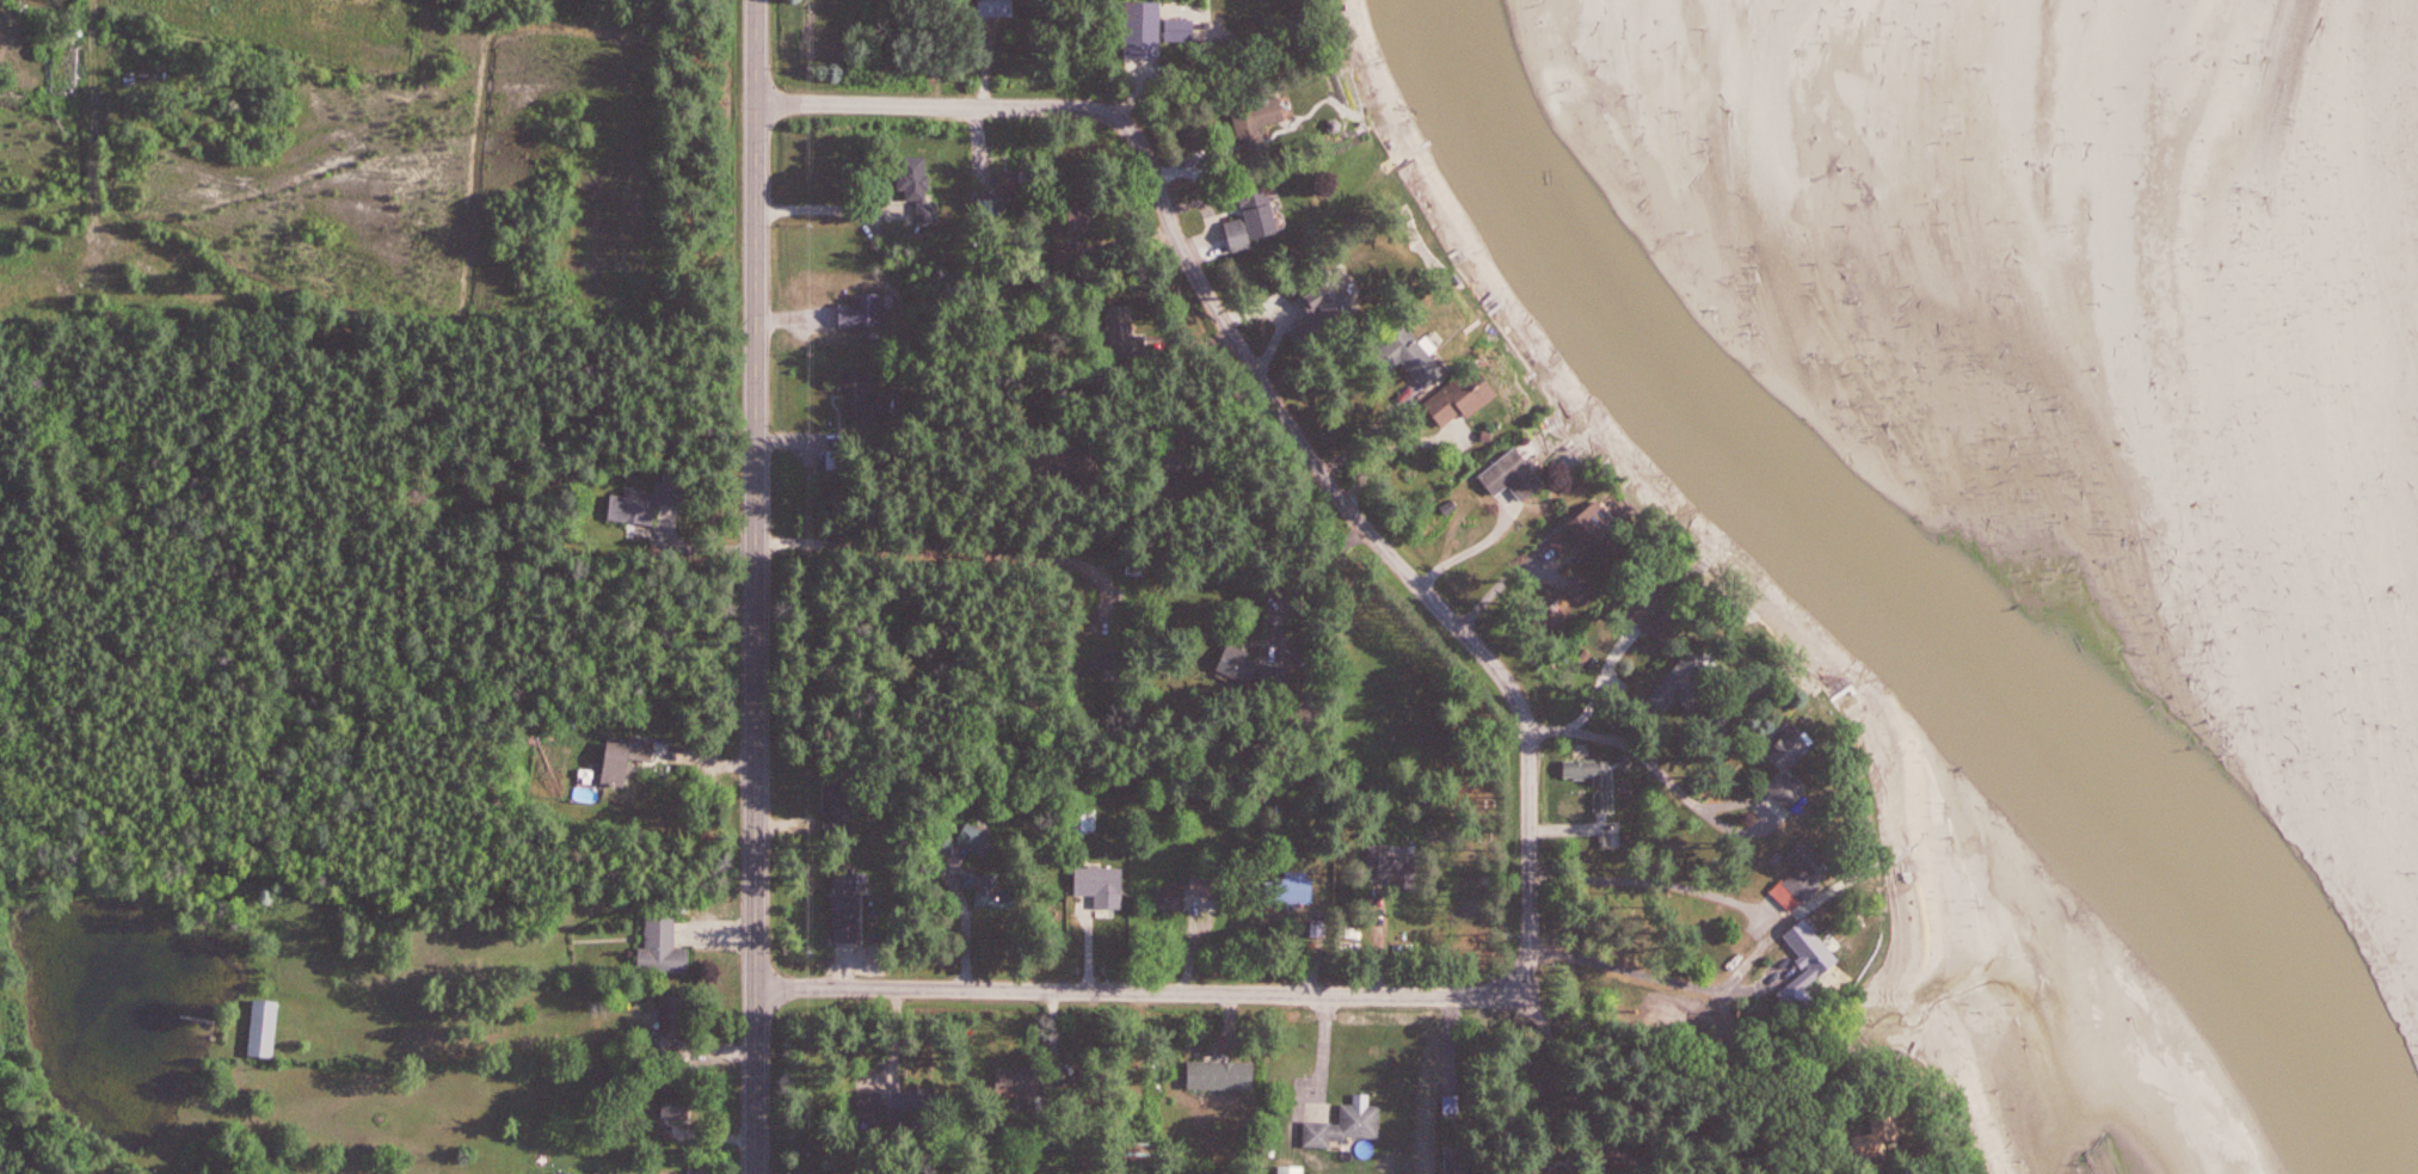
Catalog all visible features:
building: (999, 8)
building: (1265, 117)
road: (91, 124)
building: (918, 186)
building: (1004, 193)
building: (1090, 217)
building: (1256, 219)
building: (866, 309)
building: (1323, 314)
building: (1125, 332)
building: (1417, 357)
building: (859, 392)
road: (1269, 395)
building: (1468, 398)
building: (835, 460)
building: (1516, 475)
building: (645, 503)
building: (1593, 533)
road: (945, 554)
road: (755, 586)
river: (1887, 595)
building: (1669, 619)
building: (1239, 668)
building: (1276, 676)
building: (1691, 684)
building: (1723, 719)
building: (620, 764)
building: (1591, 772)
road: (1676, 786)
building: (1084, 820)
building: (977, 838)
building: (1395, 868)
road: (1649, 877)
building: (1809, 877)
building: (1206, 878)
building: (1102, 885)
building: (989, 890)
building: (1294, 890)
building: (1171, 898)
building: (663, 947)
building: (1815, 960)
road: (1639, 971)
road: (1137, 991)
building: (670, 1027)
building: (265, 1028)
road: (1450, 1062)
building: (1222, 1075)
building: (1022, 1083)
building: (677, 1105)
building: (906, 1111)
building: (1348, 1126)
building: (1464, 1164)
building: (564, 1173)

